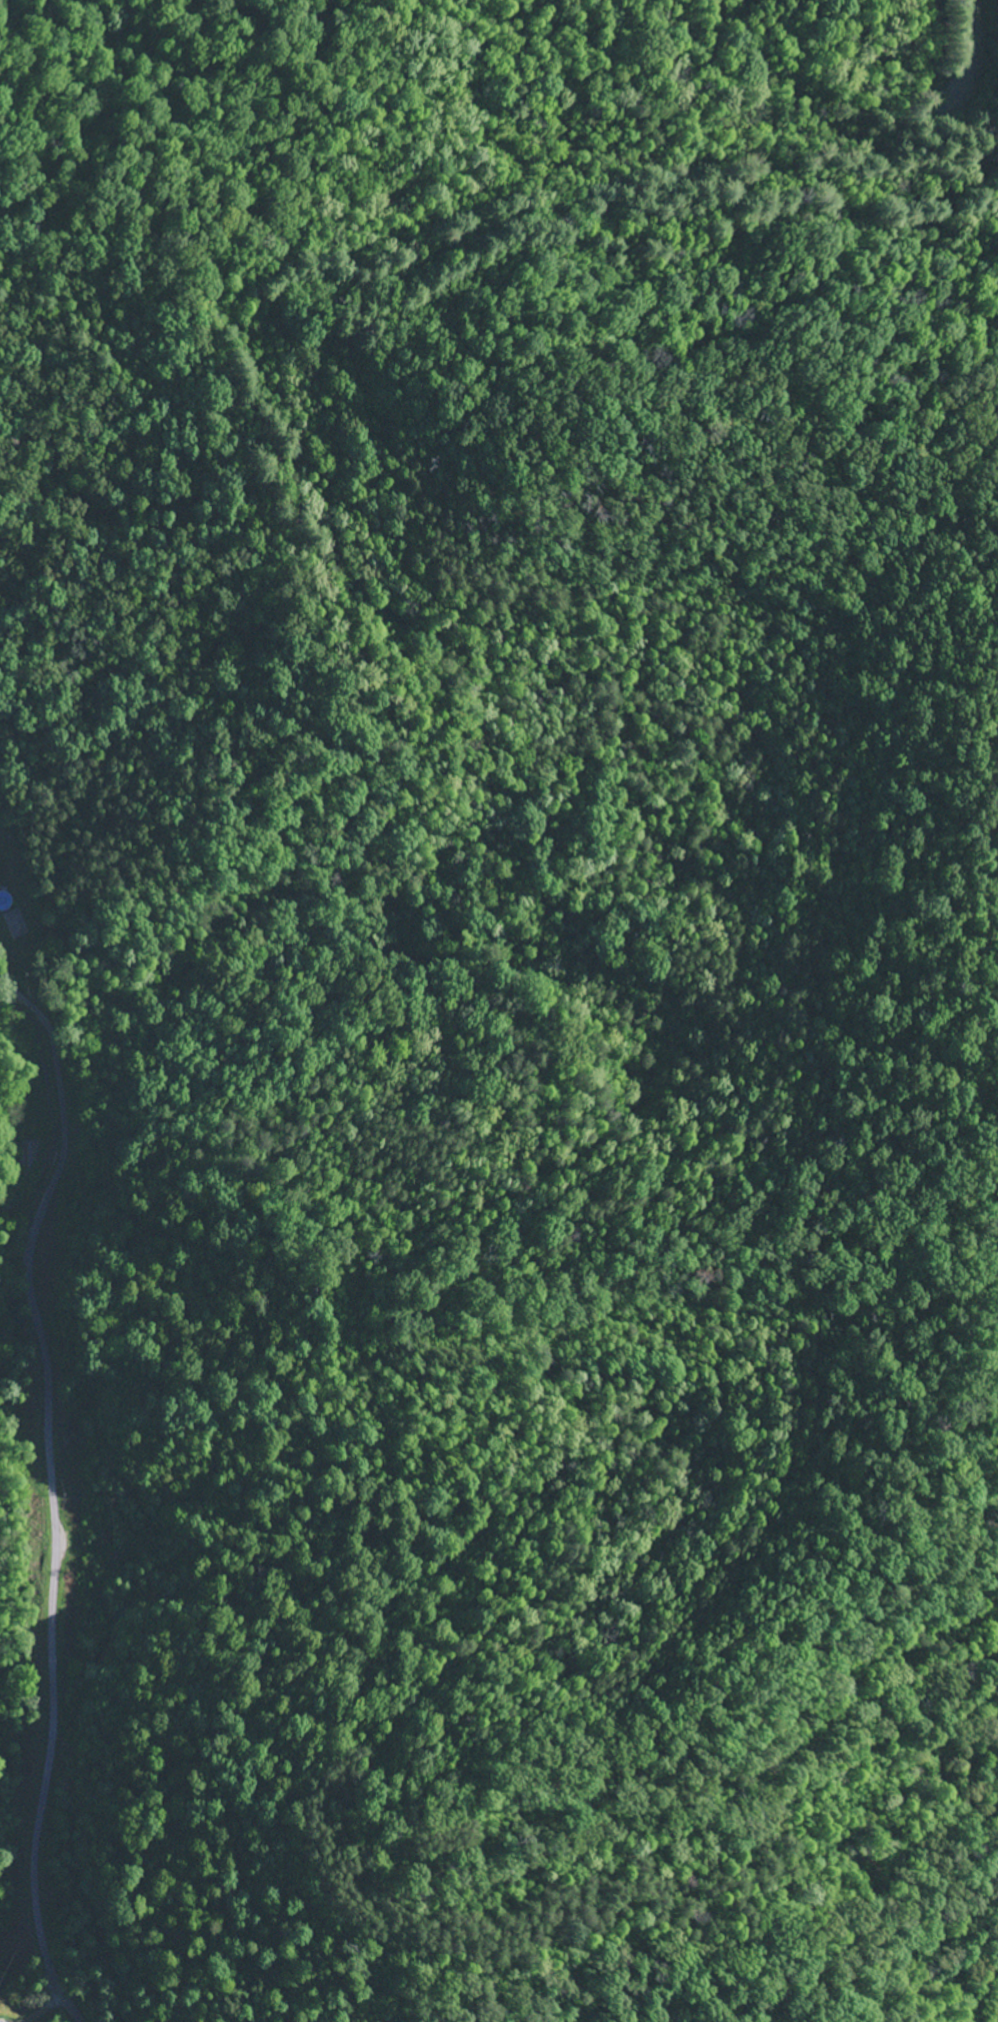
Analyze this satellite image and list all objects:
road: (51, 1484)

